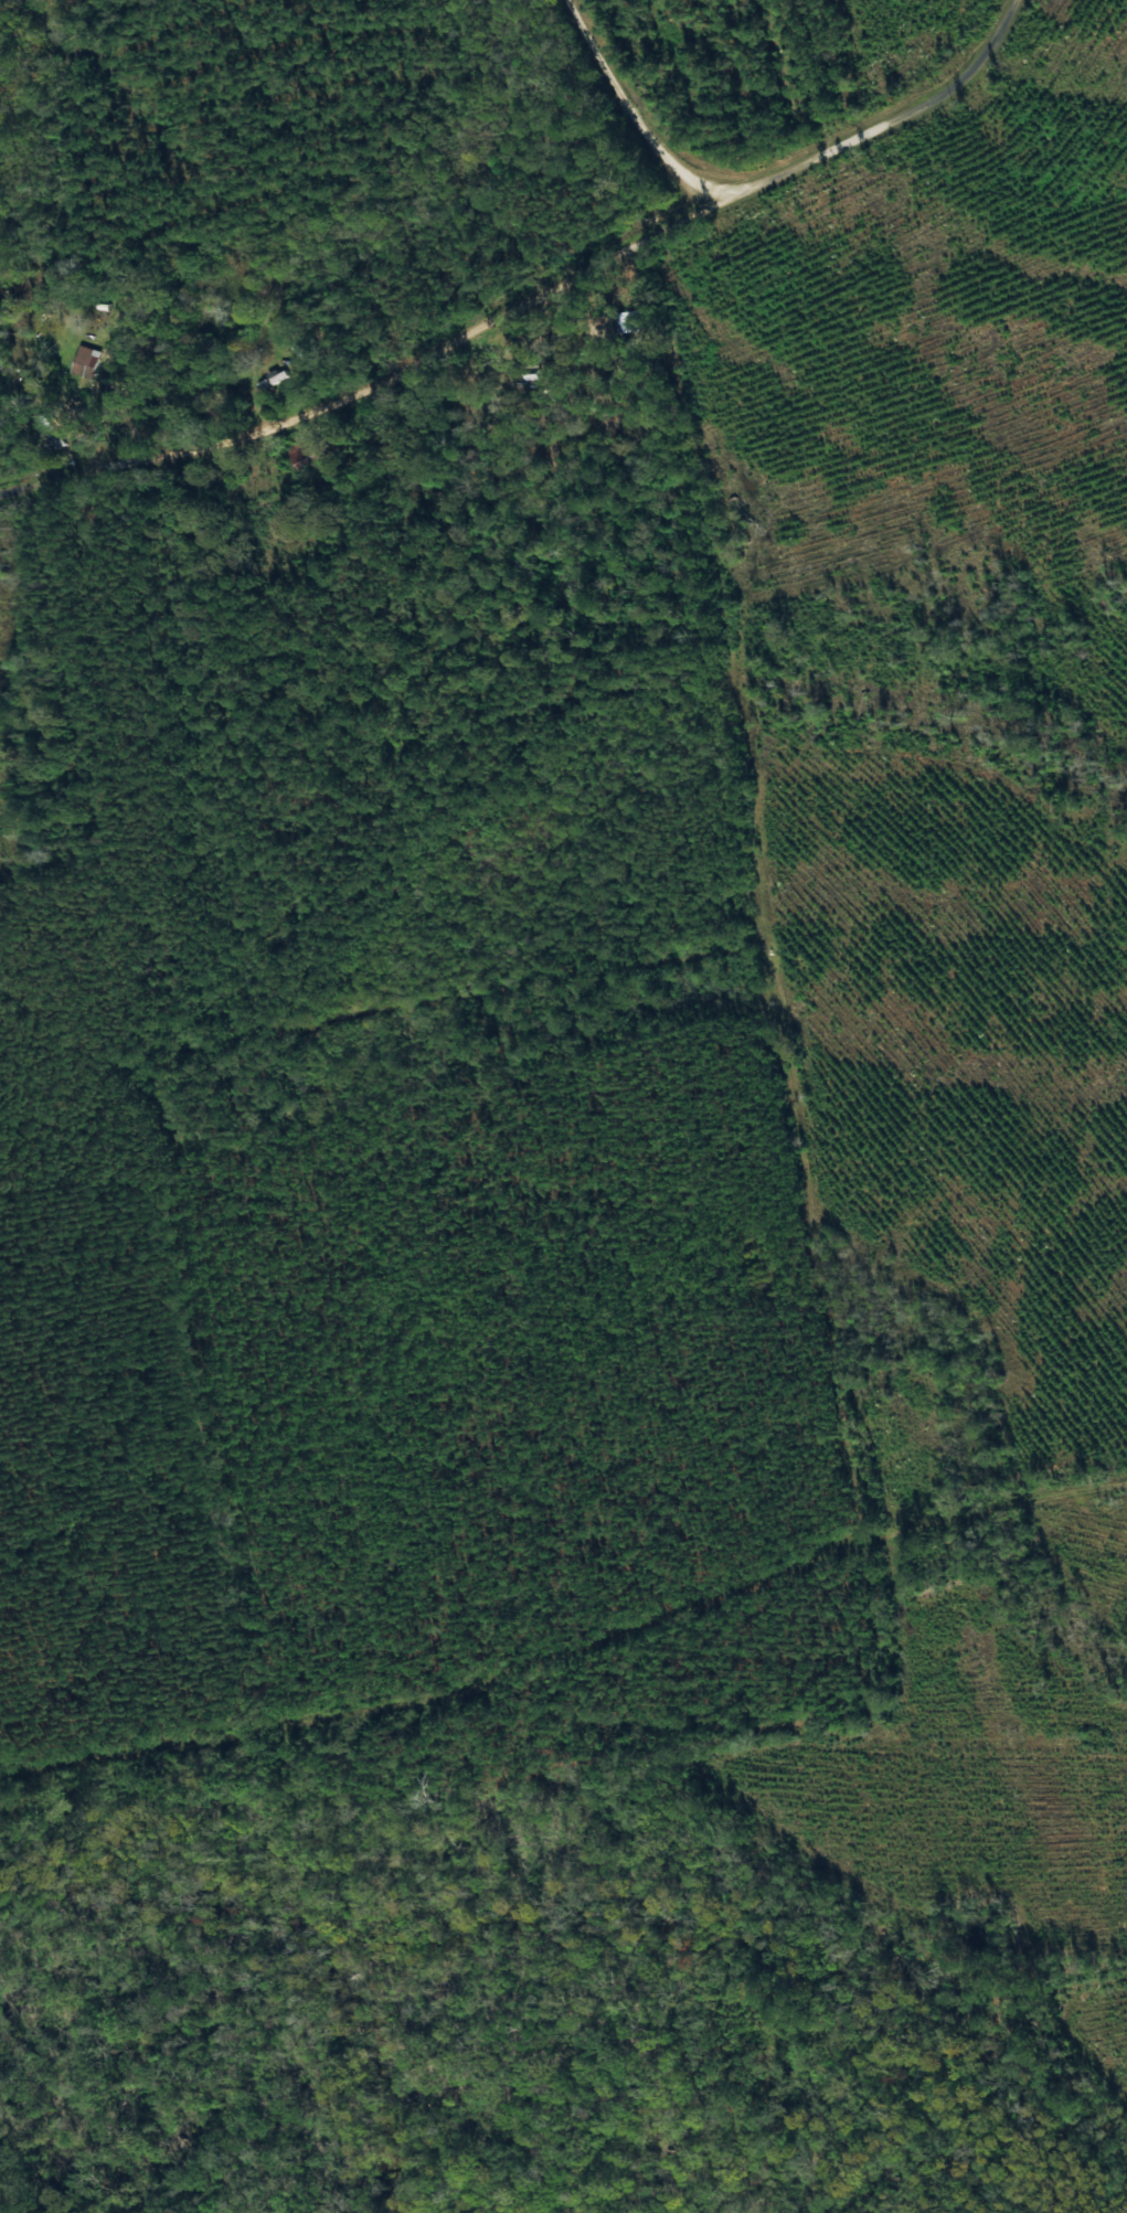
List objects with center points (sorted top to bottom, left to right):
road: (547, 285)
road: (563, 1640)
road: (960, 2003)

